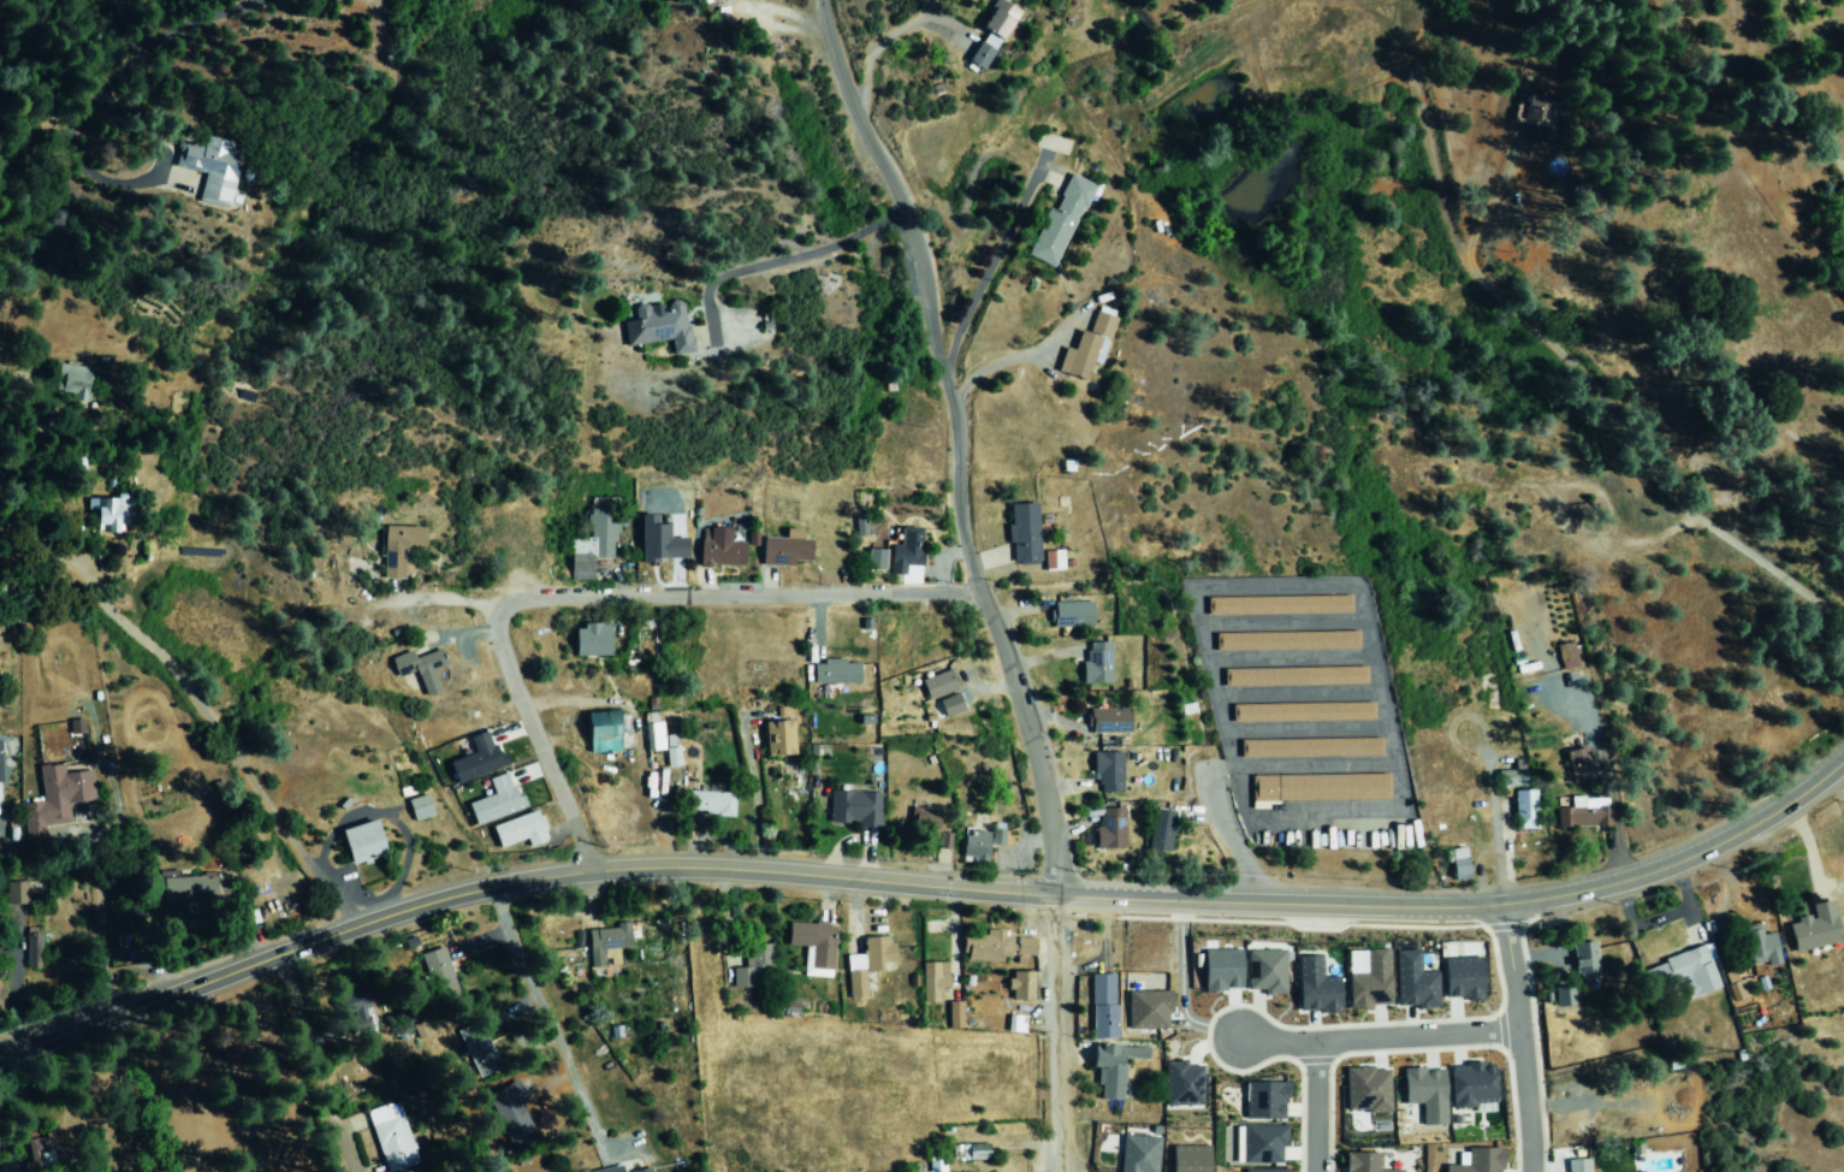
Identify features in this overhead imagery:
building: (995, 31)
road: (96, 90)
building: (1535, 107)
building: (212, 166)
building: (1061, 221)
road: (790, 253)
road: (966, 304)
road: (1514, 313)
building: (662, 326)
building: (1089, 348)
road: (995, 361)
building: (75, 380)
road: (956, 440)
building: (109, 513)
building: (1025, 533)
road: (1667, 533)
building: (594, 543)
building: (401, 549)
building: (722, 549)
building: (787, 549)
building: (877, 560)
building: (1055, 561)
road: (1768, 572)
road: (1065, 586)
road: (1336, 586)
road: (737, 594)
building: (1280, 605)
building: (1073, 614)
building: (593, 639)
building: (1287, 640)
building: (1567, 656)
building: (1098, 663)
building: (421, 668)
building: (836, 671)
building: (1295, 676)
building: (938, 685)
building: (1304, 711)
building: (1109, 718)
building: (604, 732)
building: (654, 732)
road: (539, 739)
building: (779, 739)
building: (1311, 747)
road: (230, 754)
building: (1581, 764)
building: (1109, 771)
building: (1321, 787)
building: (67, 791)
building: (497, 800)
building: (708, 803)
building: (421, 807)
building: (853, 809)
building: (1525, 810)
building: (1588, 811)
road: (1493, 818)
building: (925, 823)
building: (1113, 828)
building: (521, 830)
building: (1162, 830)
building: (998, 834)
building: (945, 840)
building: (363, 842)
building: (976, 846)
building: (1459, 864)
road: (927, 887)
building: (190, 890)
building: (1812, 928)
building: (604, 942)
building: (995, 945)
building: (811, 946)
building: (1760, 948)
building: (1582, 959)
building: (866, 961)
building: (752, 966)
building: (1223, 969)
building: (439, 971)
building: (1267, 971)
building: (1679, 972)
building: (1463, 977)
building: (1738, 977)
building: (1369, 978)
building: (931, 981)
building: (1415, 982)
building: (1019, 985)
building: (1316, 987)
building: (1561, 995)
building: (1099, 1006)
building: (358, 1010)
building: (1148, 1012)
building: (950, 1014)
road: (547, 1017)
road: (1062, 1032)
road: (1522, 1036)
road: (1378, 1037)
building: (479, 1048)
building: (1110, 1067)
building: (1185, 1083)
building: (1368, 1089)
building: (1472, 1090)
building: (1428, 1093)
building: (1265, 1100)
road: (1317, 1106)
building: (514, 1113)
building: (392, 1136)
building: (1261, 1143)
building: (1145, 1147)
building: (974, 1152)
building: (1191, 1158)
building: (1481, 1160)
building: (1369, 1162)
building: (1577, 1165)
building: (935, 1166)
building: (604, 1170)
building: (642, 1170)
building: (1265, 1170)

